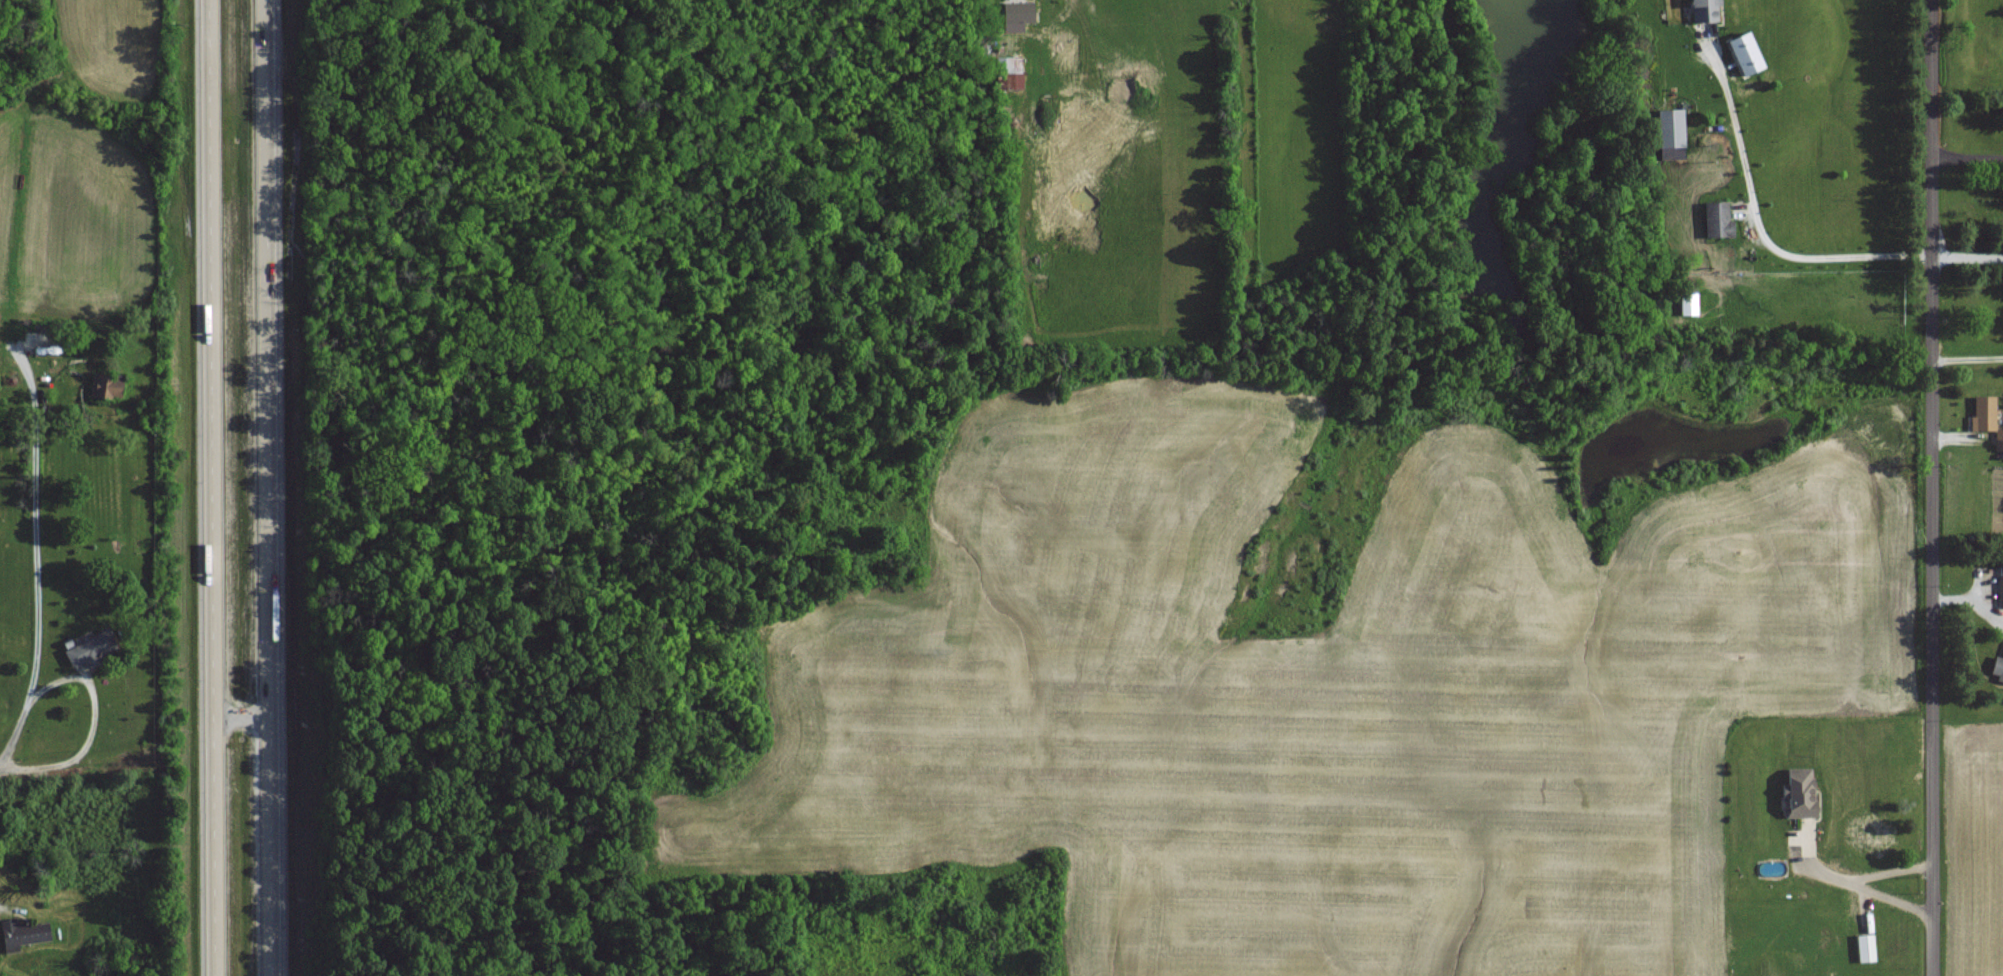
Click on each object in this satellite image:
building: (1705, 11)
building: (1010, 72)
building: (1671, 128)
road: (1968, 163)
building: (1717, 219)
road: (1761, 241)
road: (1968, 254)
building: (35, 341)
road: (1968, 363)
building: (1982, 415)
building: (1999, 440)
road: (207, 488)
road: (271, 488)
road: (1934, 488)
road: (35, 534)
building: (2001, 587)
building: (88, 647)
building: (1998, 668)
road: (97, 685)
road: (241, 717)
building: (1801, 792)
road: (1816, 869)
road: (1894, 873)
road: (1892, 904)
building: (24, 933)
building: (1865, 947)

